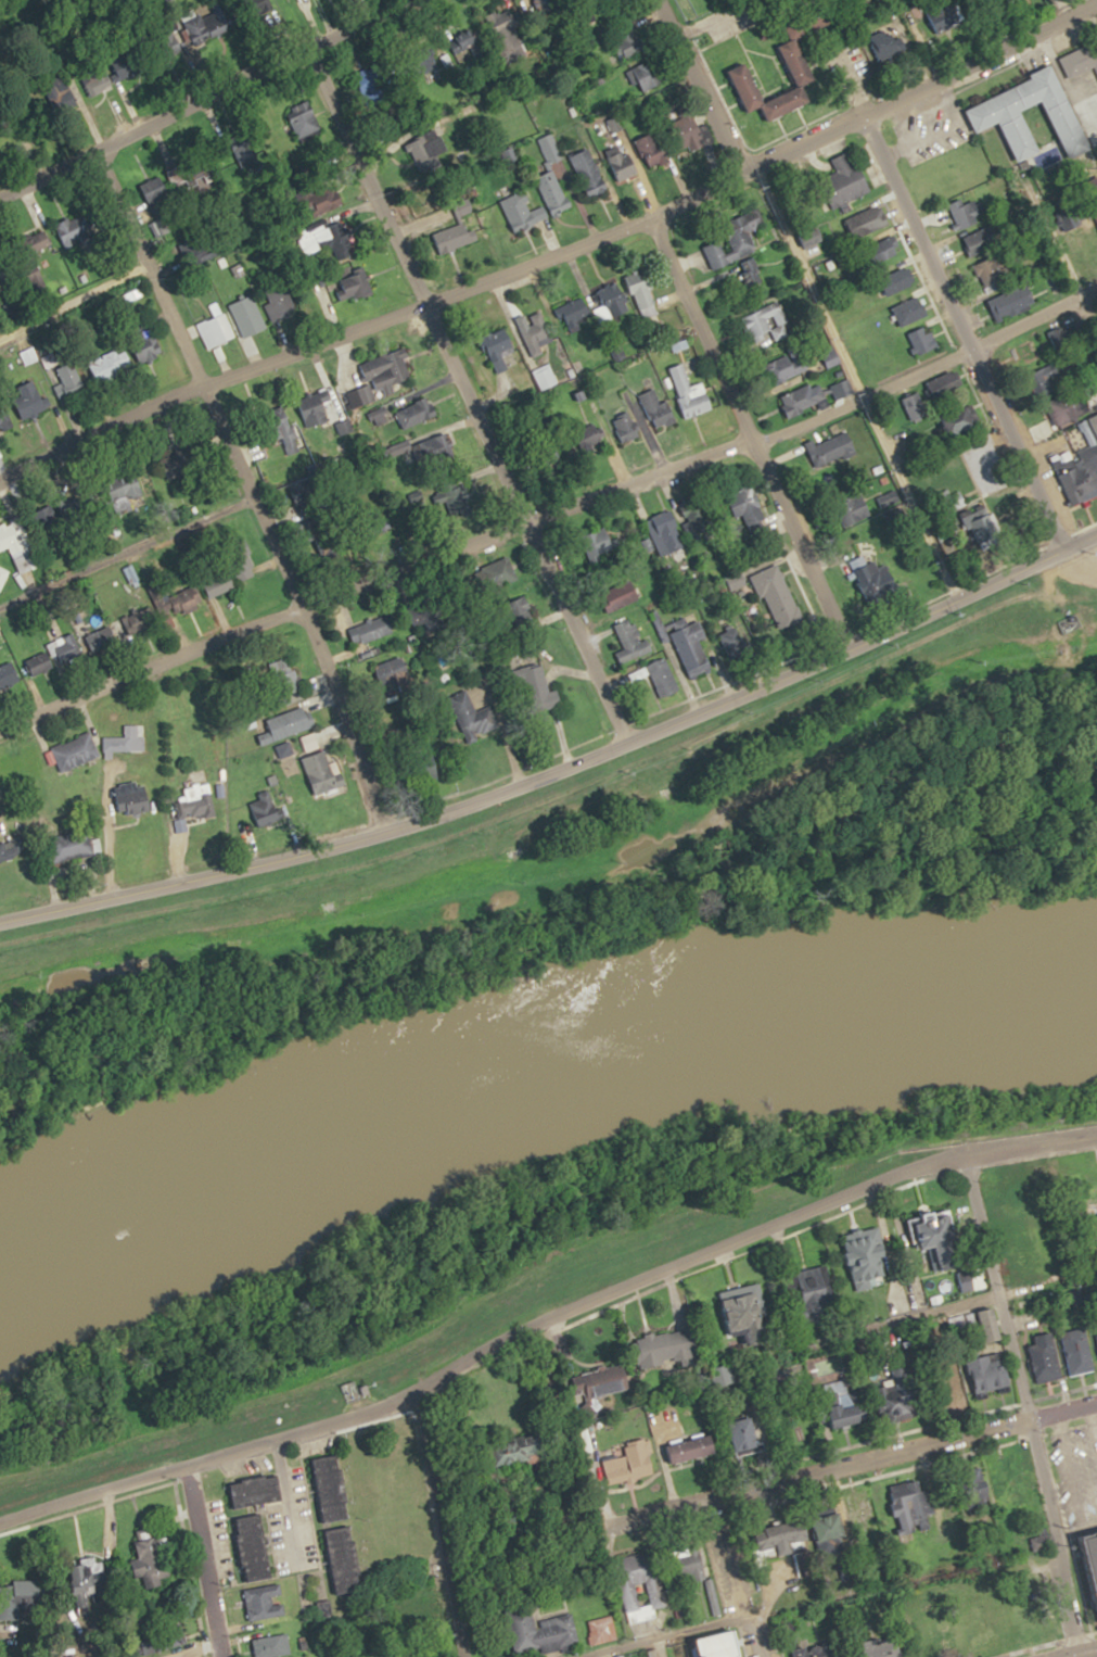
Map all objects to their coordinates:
building: (952, 23)
road: (984, 24)
building: (630, 47)
building: (1081, 60)
building: (805, 75)
building: (647, 78)
road: (193, 93)
building: (999, 116)
building: (690, 134)
building: (625, 165)
building: (588, 172)
building: (178, 176)
building: (846, 180)
building: (556, 197)
building: (967, 212)
building: (869, 220)
building: (76, 230)
building: (320, 237)
road: (1053, 241)
building: (735, 242)
building: (977, 242)
building: (39, 243)
building: (888, 248)
road: (553, 253)
building: (991, 270)
road: (936, 274)
building: (900, 280)
building: (358, 283)
building: (645, 291)
road: (74, 295)
road: (812, 300)
building: (1013, 301)
building: (279, 303)
building: (599, 308)
building: (910, 309)
building: (252, 315)
building: (767, 321)
building: (216, 331)
building: (538, 332)
building: (1066, 336)
building: (923, 339)
building: (146, 347)
building: (1029, 354)
building: (788, 365)
building: (382, 375)
building: (73, 380)
building: (948, 385)
road: (467, 390)
building: (692, 392)
building: (34, 396)
building: (805, 397)
building: (916, 406)
building: (1071, 407)
building: (659, 409)
building: (319, 414)
building: (417, 414)
building: (964, 418)
building: (3, 422)
road: (751, 434)
building: (430, 445)
building: (833, 447)
building: (175, 458)
building: (1079, 472)
road: (245, 481)
building: (128, 490)
building: (469, 502)
building: (855, 507)
building: (748, 510)
road: (552, 511)
building: (964, 518)
building: (672, 535)
building: (14, 536)
building: (25, 562)
building: (244, 566)
building: (505, 571)
building: (869, 579)
building: (220, 582)
building: (777, 591)
building: (181, 599)
building: (523, 608)
building: (145, 622)
building: (372, 629)
building: (105, 637)
building: (632, 642)
building: (735, 642)
building: (67, 648)
building: (697, 648)
building: (40, 662)
building: (394, 669)
building: (9, 674)
building: (664, 676)
building: (540, 688)
building: (475, 716)
building: (288, 724)
building: (76, 751)
road: (562, 766)
building: (323, 771)
building: (132, 798)
building: (195, 805)
building: (270, 805)
building: (72, 846)
river: (531, 1055)
building: (943, 1240)
road: (881, 1245)
road: (549, 1326)
road: (871, 1335)
building: (674, 1348)
building: (1092, 1349)
building: (1063, 1352)
building: (1037, 1363)
building: (990, 1373)
building: (846, 1405)
road: (1020, 1406)
building: (751, 1435)
building: (694, 1449)
road: (839, 1460)
building: (632, 1463)
building: (1016, 1485)
building: (334, 1489)
building: (258, 1491)
road: (326, 1504)
building: (908, 1509)
road: (437, 1523)
building: (832, 1532)
building: (787, 1545)
building: (257, 1548)
building: (154, 1559)
road: (200, 1560)
building: (347, 1560)
building: (1082, 1564)
building: (691, 1566)
road: (73, 1579)
building: (88, 1579)
building: (659, 1594)
building: (266, 1602)
building: (602, 1630)
building: (546, 1632)
building: (273, 1645)
building: (726, 1645)
road: (177, 1646)
building: (819, 1649)
road: (1080, 1653)
building: (897, 1654)

